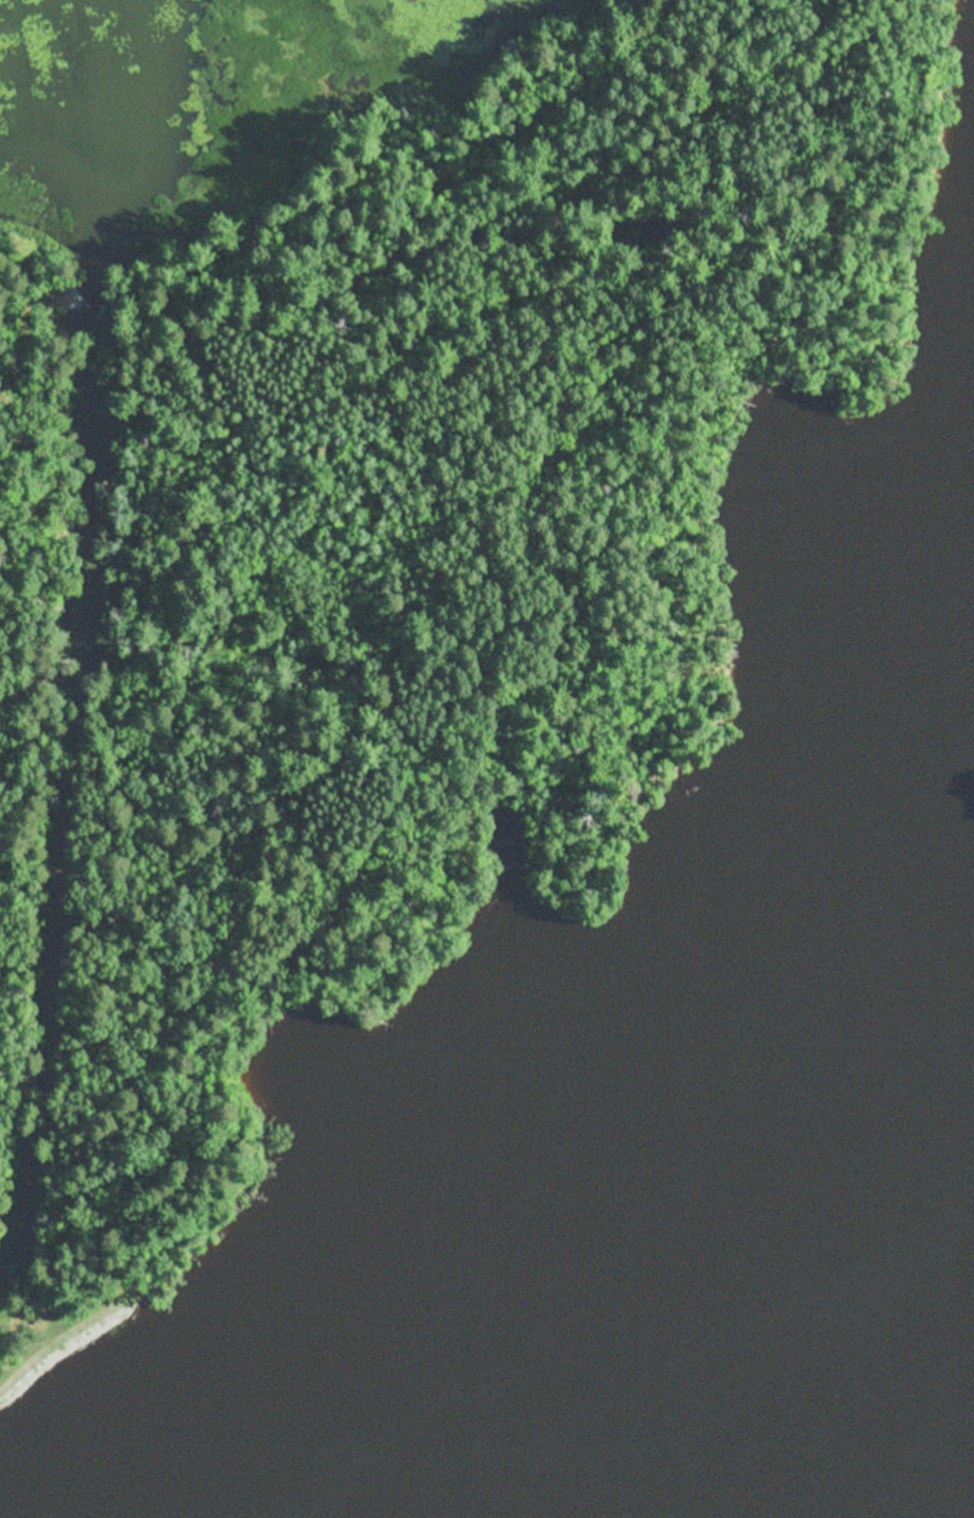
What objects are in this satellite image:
road: (1, 355)

